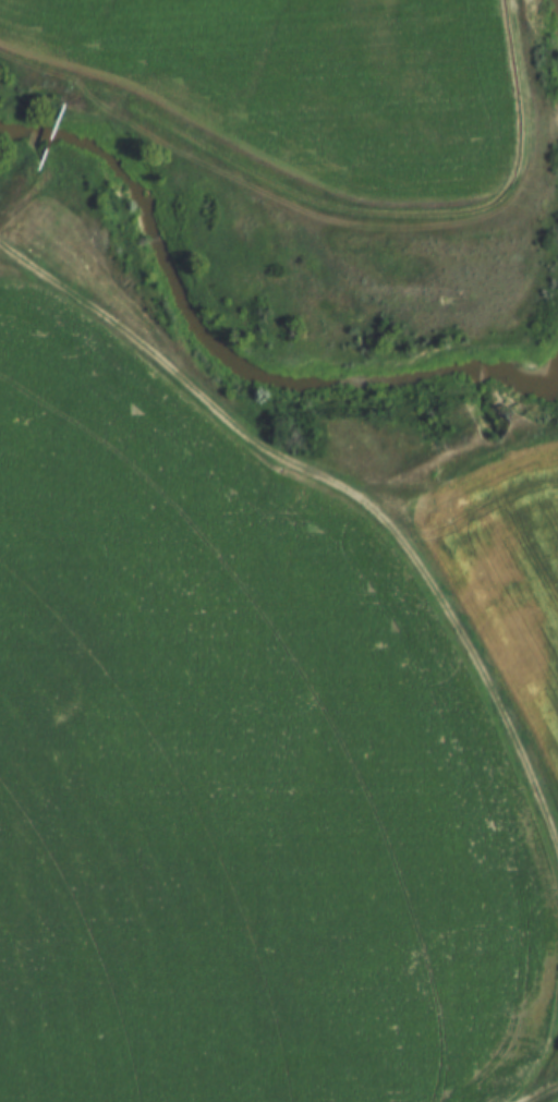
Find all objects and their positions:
road: (413, 222)
road: (488, 462)
road: (289, 472)
road: (542, 1093)

